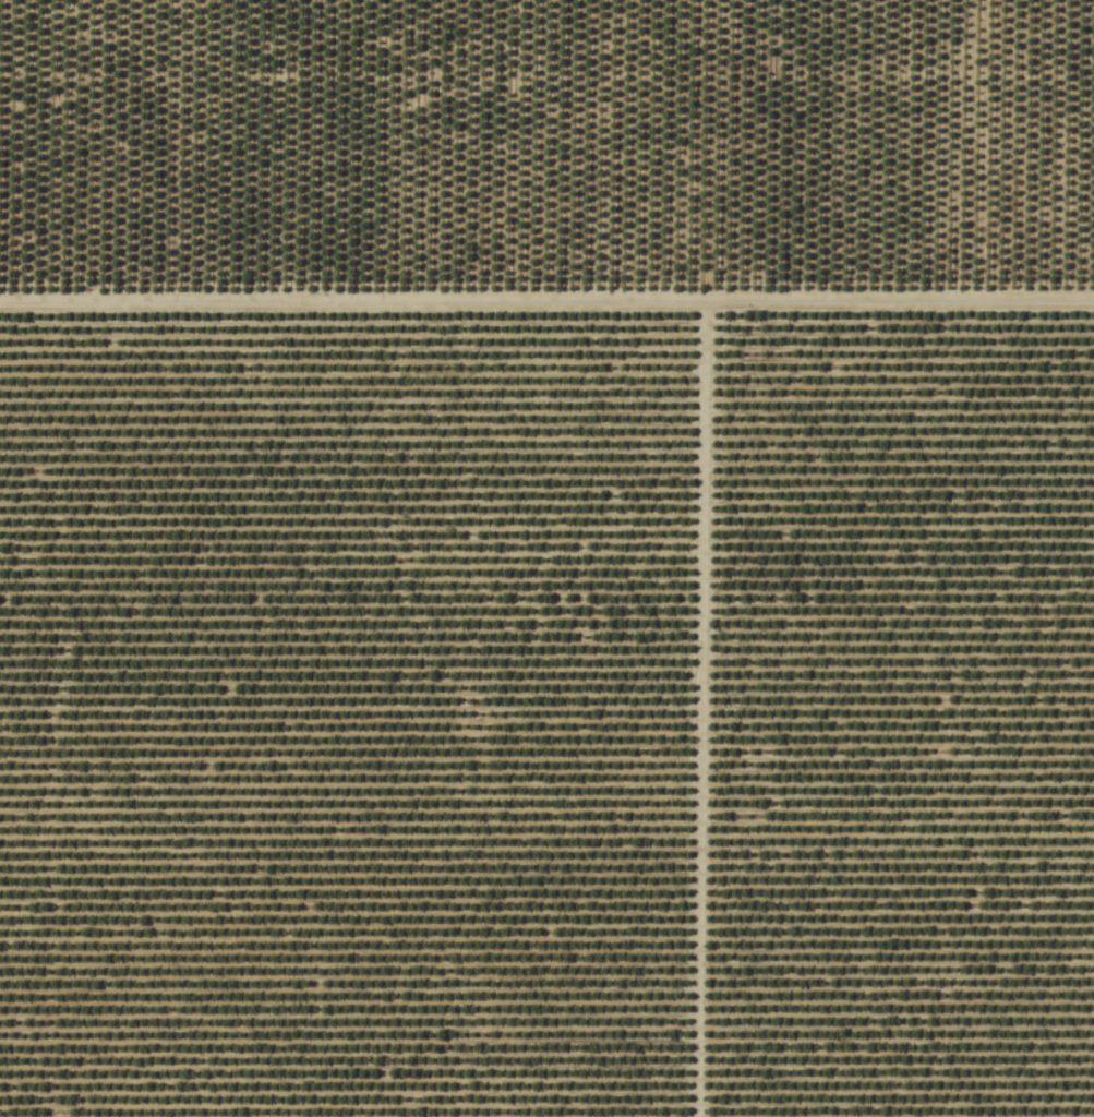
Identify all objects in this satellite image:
crop: (546, 558)

